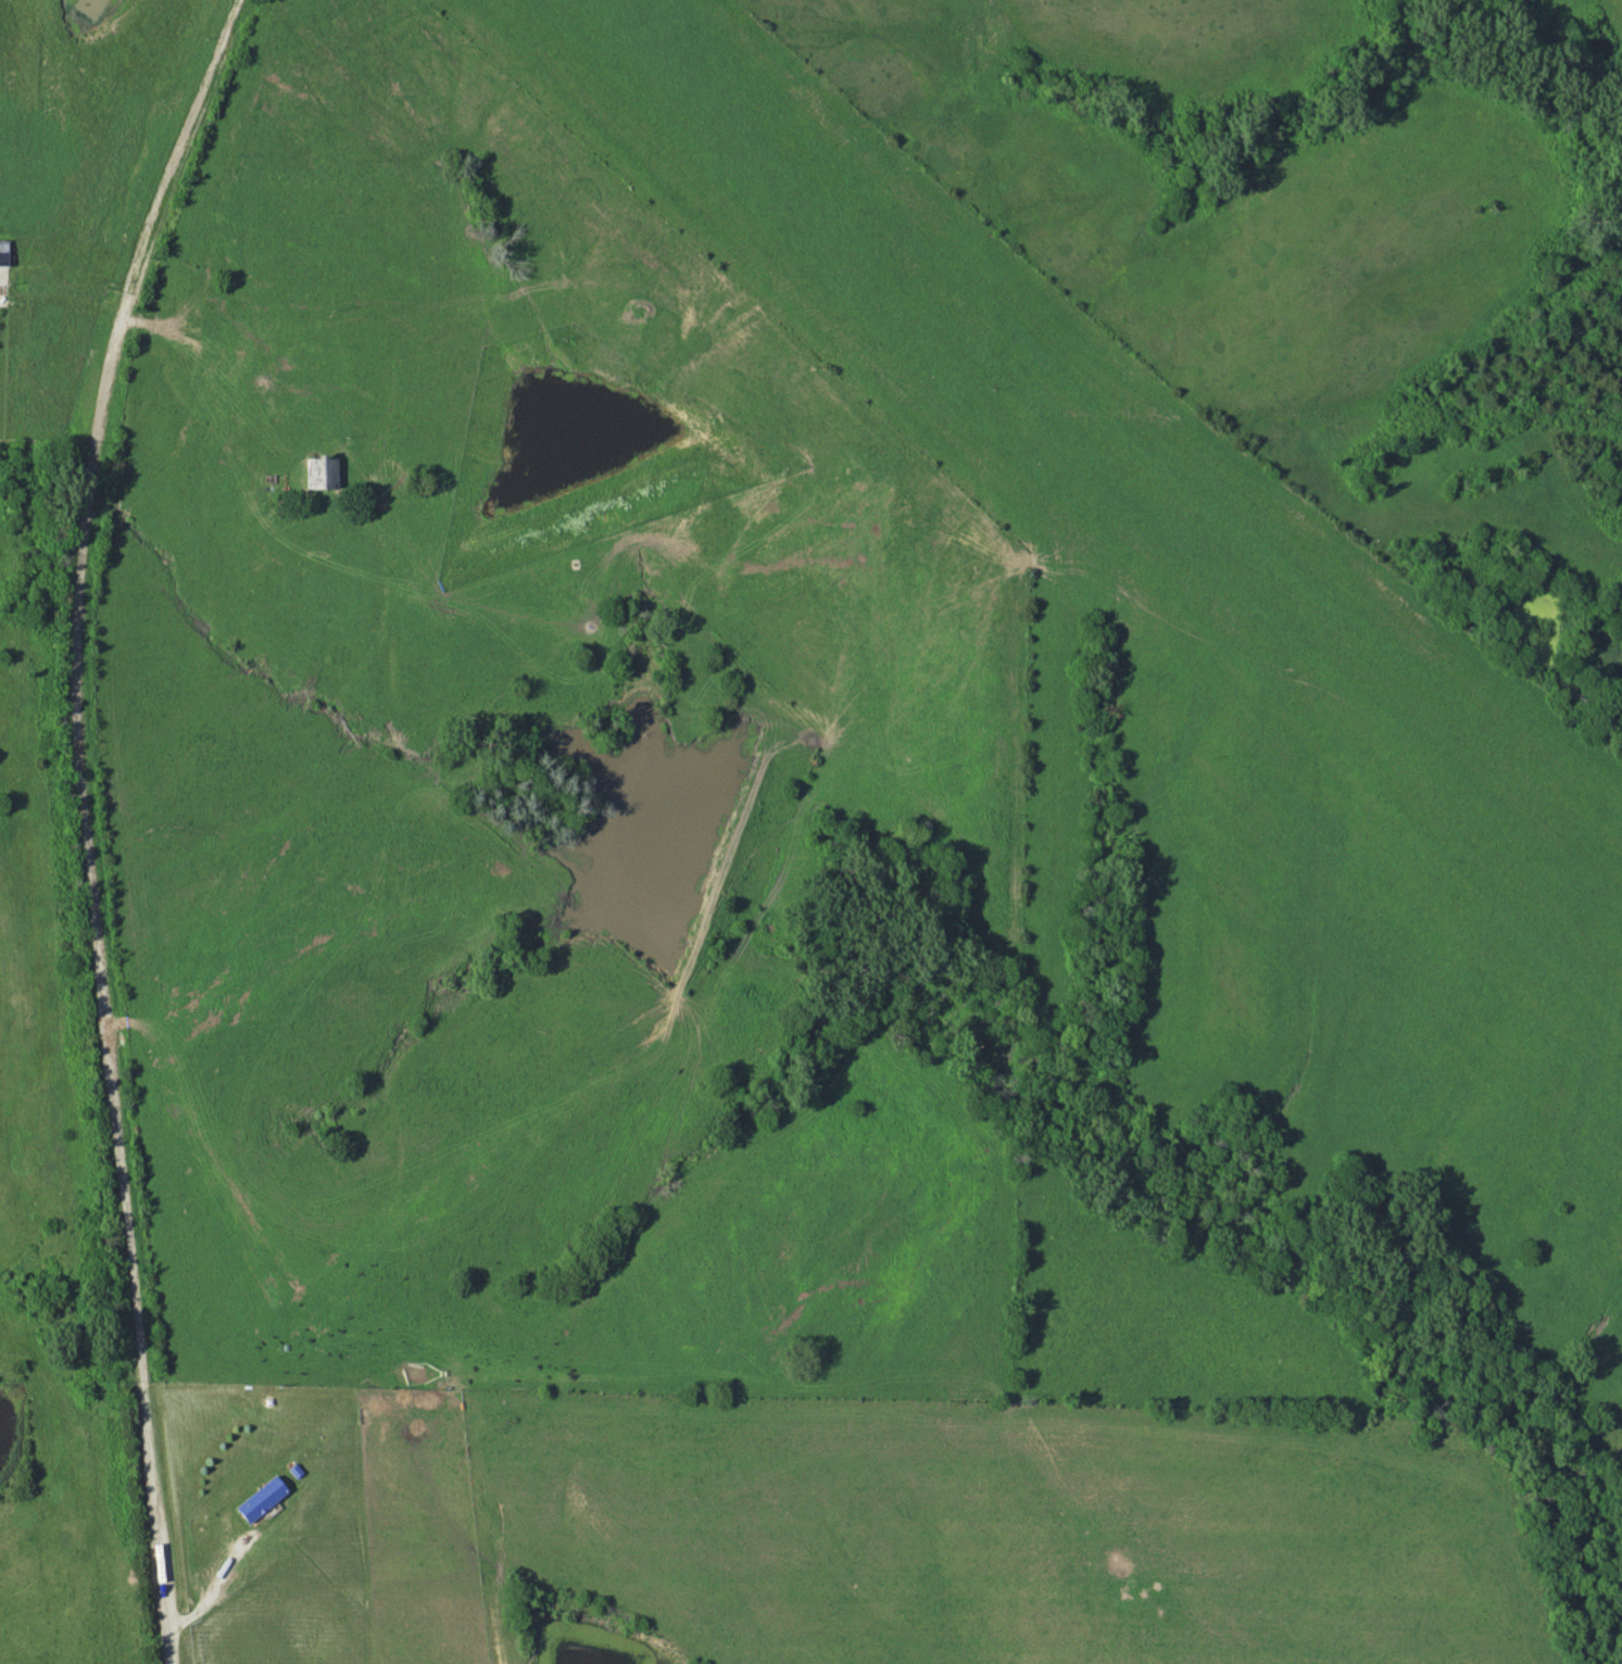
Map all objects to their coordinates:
building: (323, 469)
road: (86, 820)
building: (264, 1498)

